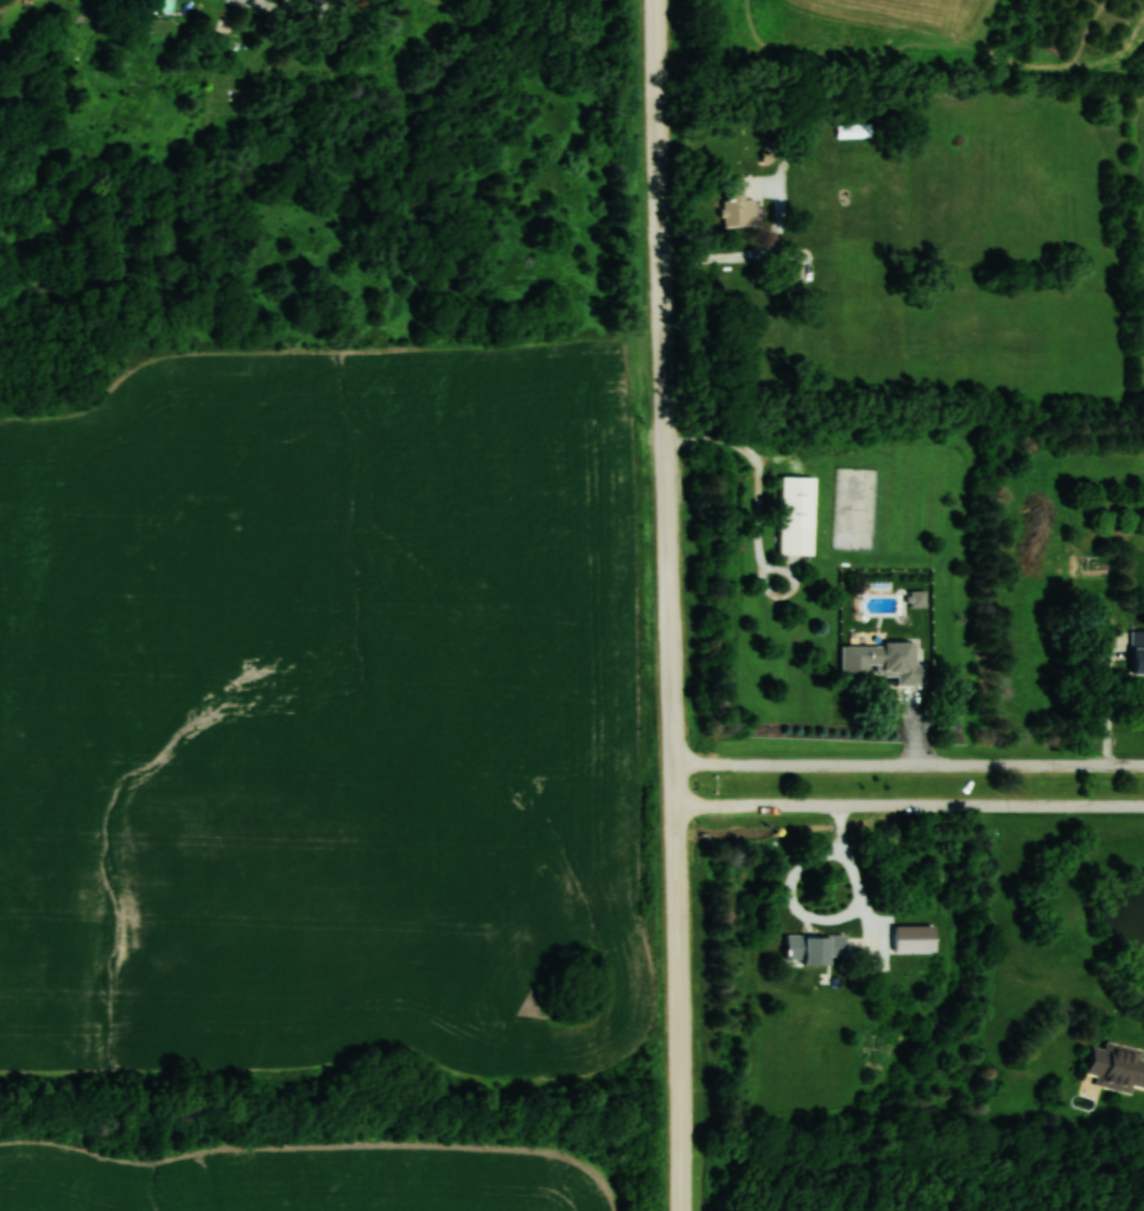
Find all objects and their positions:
building: (853, 129)
building: (736, 203)
building: (796, 515)
road: (668, 604)
building: (1138, 652)
building: (879, 662)
road: (1107, 718)
road: (909, 763)
road: (909, 806)
road: (832, 919)
building: (813, 949)
building: (1117, 1066)

